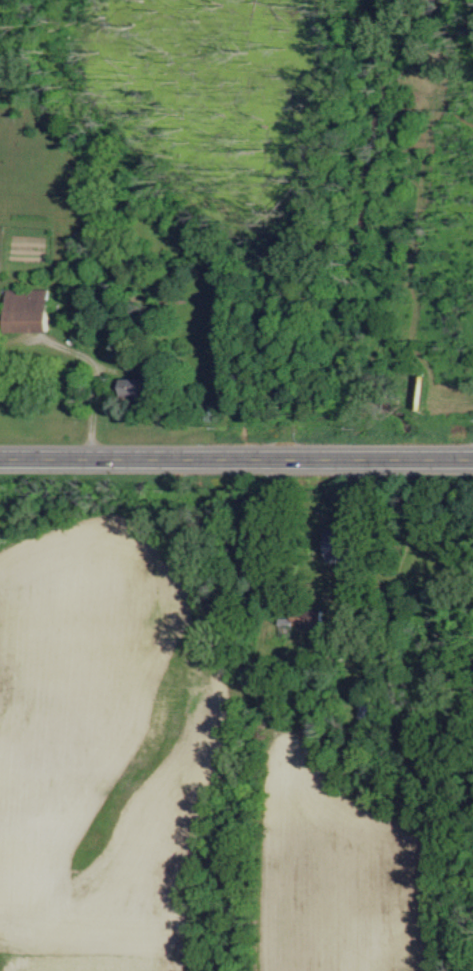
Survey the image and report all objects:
building: (29, 309)
building: (136, 386)
road: (236, 456)
building: (340, 543)
building: (310, 616)

